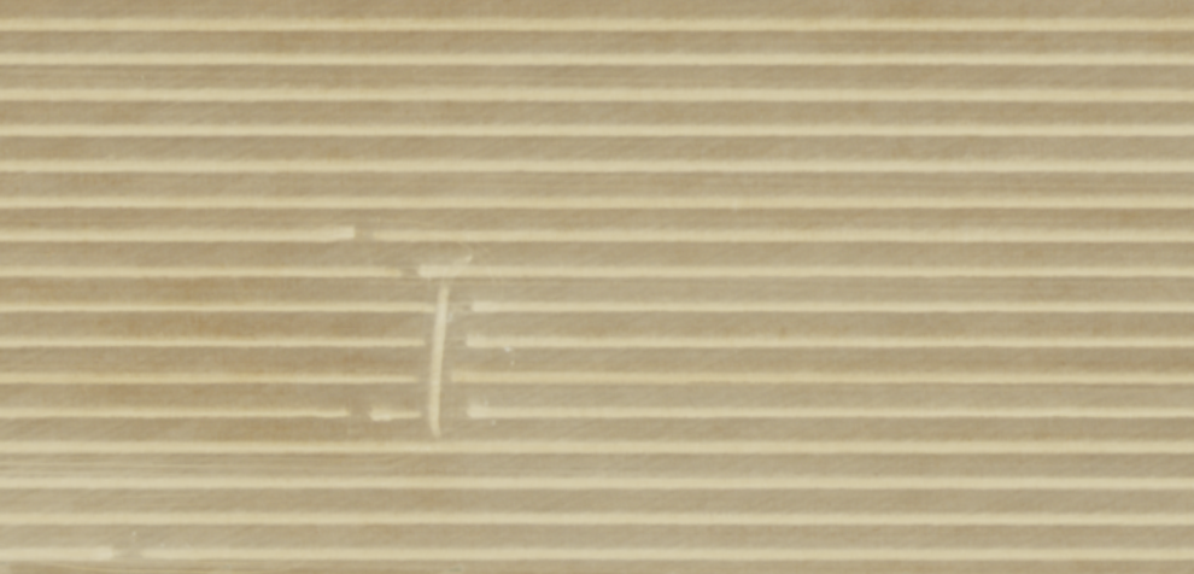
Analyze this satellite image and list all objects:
crop: (597, 287)

